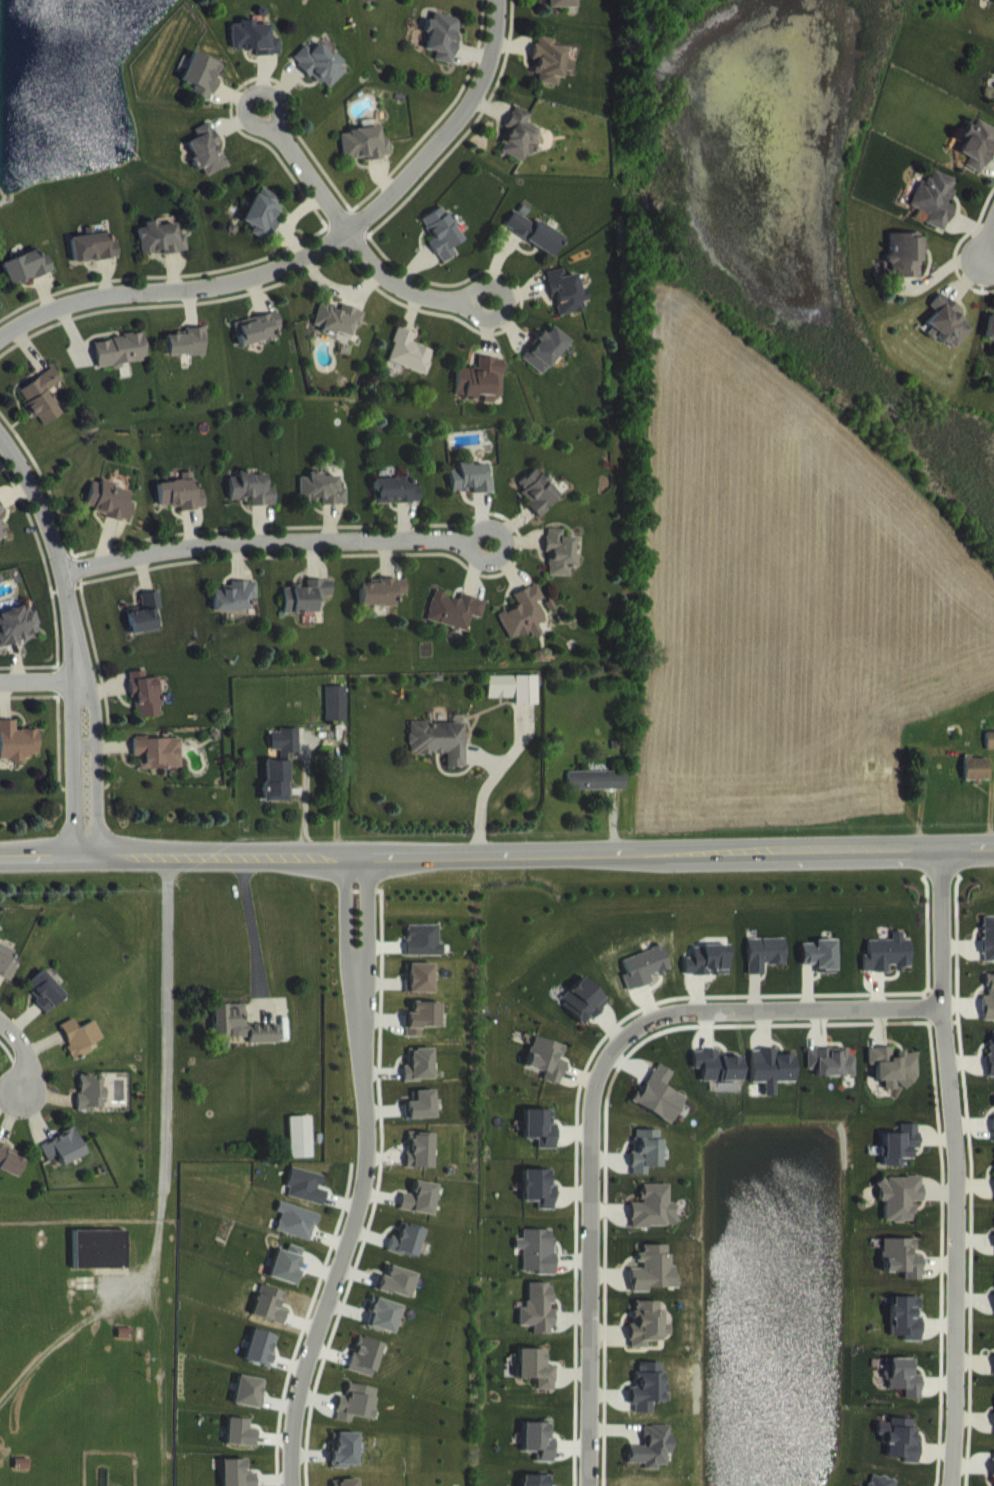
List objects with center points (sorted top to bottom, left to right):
building: (989, 1)
building: (562, 10)
building: (441, 50)
building: (254, 52)
building: (547, 75)
building: (320, 79)
building: (202, 89)
road: (246, 96)
building: (992, 108)
building: (516, 148)
building: (363, 158)
building: (975, 158)
building: (206, 164)
building: (932, 213)
building: (262, 227)
road: (987, 234)
road: (351, 238)
building: (441, 247)
building: (533, 247)
building: (161, 252)
road: (310, 253)
road: (989, 256)
building: (93, 262)
building: (902, 268)
building: (26, 281)
road: (491, 282)
building: (564, 305)
building: (337, 333)
building: (989, 341)
building: (257, 343)
building: (187, 357)
building: (544, 363)
building: (120, 364)
building: (409, 366)
building: (478, 391)
building: (42, 410)
building: (470, 492)
building: (250, 503)
building: (321, 503)
building: (394, 504)
building: (537, 505)
building: (180, 507)
building: (108, 514)
road: (488, 524)
building: (0, 526)
road: (263, 539)
building: (1, 547)
road: (54, 550)
building: (560, 566)
building: (382, 606)
building: (234, 610)
building: (307, 611)
building: (454, 624)
building: (144, 627)
building: (524, 628)
building: (18, 638)
road: (41, 680)
building: (513, 702)
building: (145, 708)
building: (334, 717)
building: (989, 754)
building: (438, 755)
building: (16, 756)
building: (283, 756)
road: (98, 765)
road: (74, 766)
building: (157, 767)
building: (975, 783)
building: (596, 794)
building: (274, 795)
road: (496, 851)
road: (250, 926)
building: (987, 952)
building: (423, 954)
building: (765, 968)
building: (820, 968)
building: (887, 968)
building: (707, 975)
building: (6, 977)
building: (644, 981)
building: (420, 992)
road: (164, 1003)
building: (45, 1005)
building: (989, 1012)
building: (583, 1015)
building: (422, 1031)
building: (241, 1039)
building: (79, 1051)
road: (20, 1053)
building: (991, 1068)
building: (547, 1073)
building: (830, 1076)
building: (419, 1079)
building: (717, 1080)
building: (893, 1080)
building: (771, 1082)
road: (592, 1093)
building: (90, 1107)
building: (659, 1109)
building: (422, 1119)
building: (540, 1141)
building: (300, 1151)
building: (901, 1158)
building: (63, 1161)
building: (419, 1164)
building: (646, 1164)
road: (955, 1165)
road: (362, 1174)
building: (9, 1175)
building: (305, 1200)
building: (539, 1202)
building: (900, 1211)
building: (419, 1212)
building: (653, 1221)
building: (295, 1235)
road: (155, 1236)
building: (406, 1254)
building: (98, 1263)
building: (536, 1264)
building: (902, 1272)
building: (286, 1278)
building: (653, 1283)
building: (397, 1296)
building: (270, 1319)
building: (537, 1322)
building: (383, 1329)
building: (906, 1331)
building: (646, 1338)
building: (261, 1361)
building: (365, 1370)
building: (535, 1382)
building: (903, 1391)
building: (646, 1401)
building: (250, 1405)
building: (356, 1417)
building: (241, 1447)
building: (899, 1452)
building: (537, 1454)
building: (651, 1461)
building: (345, 1463)
building: (993, 1476)
building: (235, 1479)

